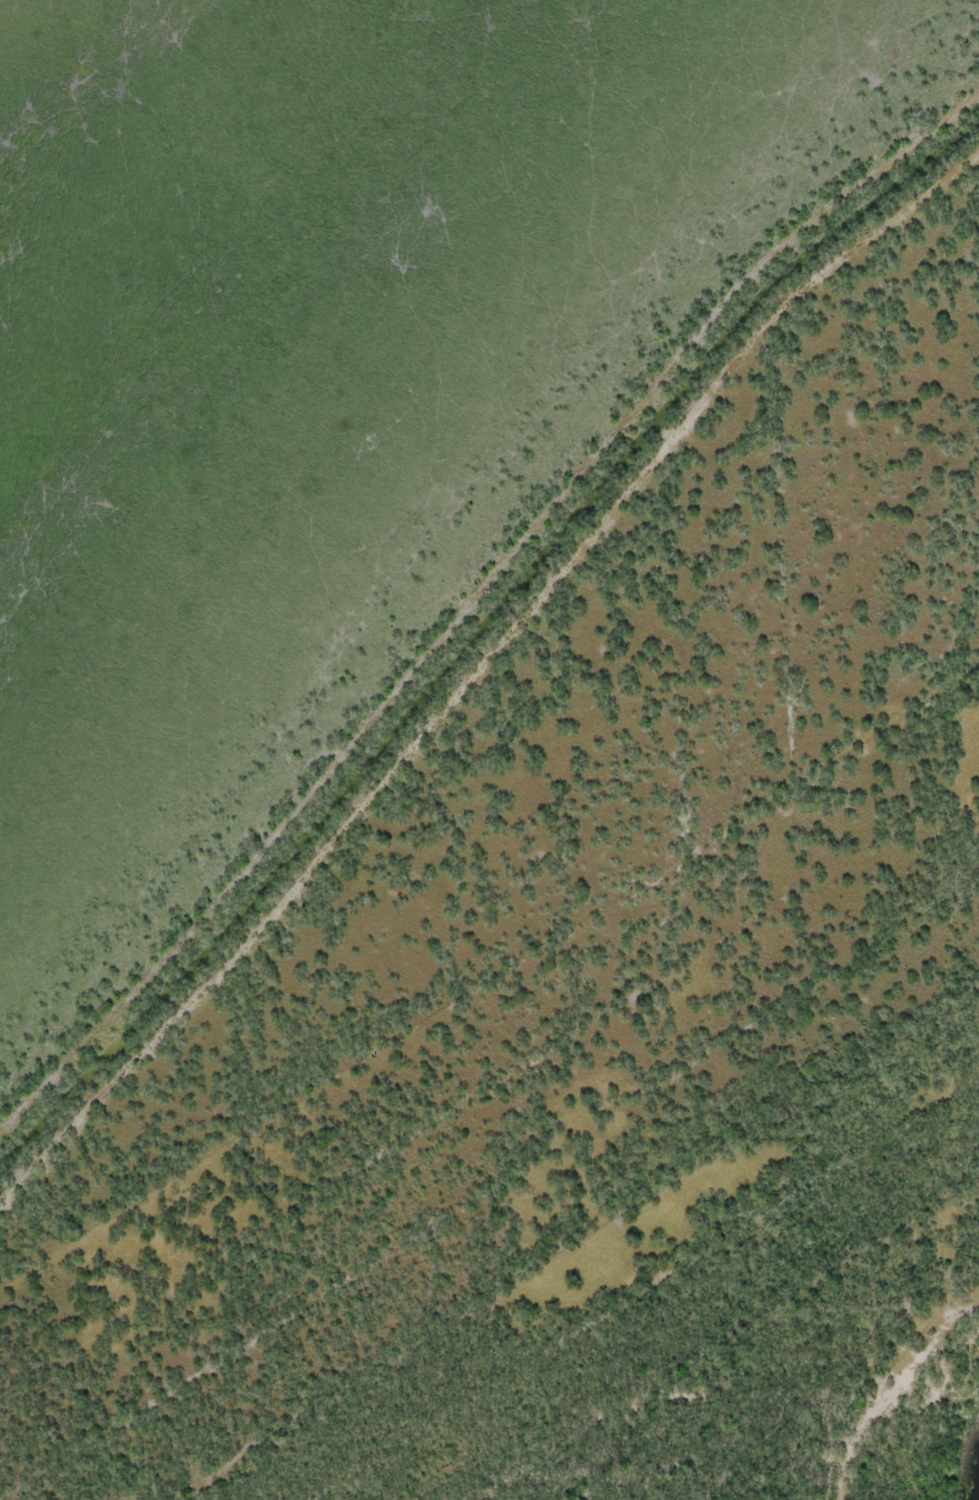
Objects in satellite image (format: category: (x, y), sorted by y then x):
road: (874, 1376)

